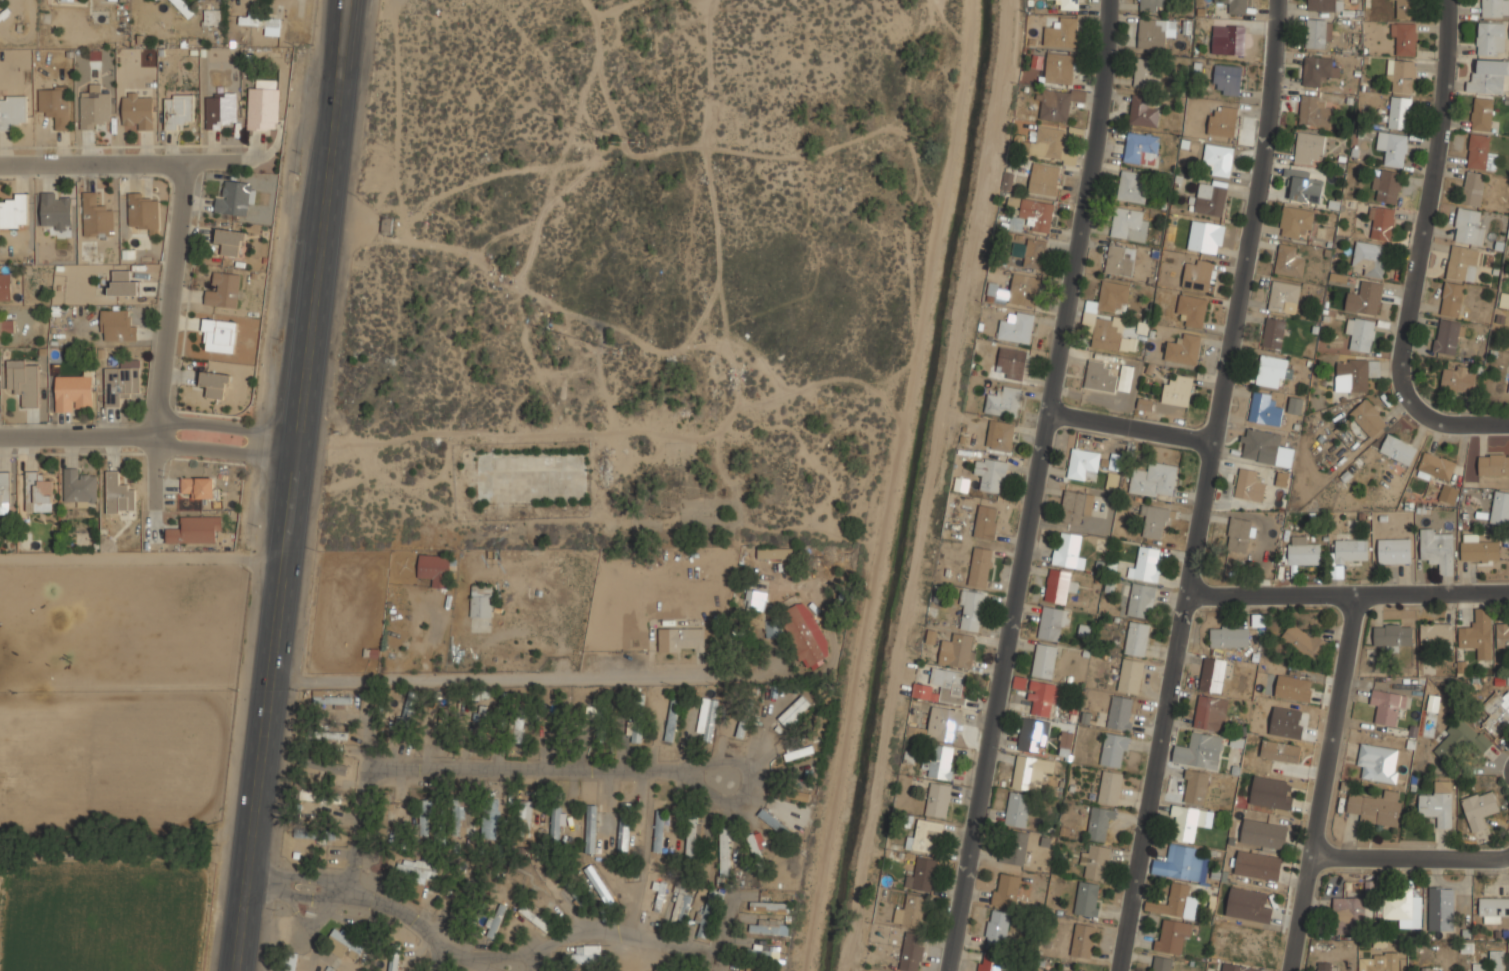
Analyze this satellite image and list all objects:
building: (67, 0)
building: (1, 2)
building: (1069, 4)
building: (1155, 5)
building: (1321, 5)
building: (1234, 6)
building: (183, 7)
building: (1405, 9)
building: (1494, 9)
building: (211, 17)
building: (259, 20)
building: (1062, 32)
building: (1151, 33)
building: (1318, 33)
building: (1405, 38)
building: (1490, 39)
building: (1230, 40)
building: (1061, 68)
building: (1318, 70)
building: (1146, 72)
building: (1401, 76)
building: (1488, 76)
building: (1227, 78)
building: (54, 104)
building: (263, 105)
building: (1055, 106)
building: (93, 108)
building: (219, 109)
building: (137, 110)
building: (1144, 110)
building: (11, 111)
building: (177, 111)
building: (1399, 111)
building: (1314, 112)
building: (1482, 115)
building: (1222, 121)
building: (1046, 143)
building: (1308, 146)
building: (1392, 147)
building: (1141, 149)
building: (1478, 152)
building: (1219, 159)
road: (119, 165)
building: (1044, 179)
building: (1387, 185)
building: (1304, 186)
building: (1131, 188)
building: (1472, 188)
building: (1209, 198)
building: (233, 199)
building: (14, 211)
building: (54, 211)
building: (143, 211)
building: (1036, 214)
building: (96, 215)
building: (1295, 222)
building: (1381, 223)
building: (386, 224)
building: (1130, 225)
building: (1468, 226)
building: (1205, 236)
building: (230, 241)
road: (1419, 250)
building: (1035, 252)
building: (1369, 258)
building: (1288, 260)
building: (1118, 262)
building: (1462, 263)
building: (1198, 274)
building: (122, 283)
building: (5, 287)
building: (223, 289)
building: (1023, 290)
building: (1284, 296)
building: (1364, 297)
building: (1113, 298)
building: (1451, 298)
road: (169, 299)
building: (1504, 300)
building: (1192, 307)
building: (116, 325)
building: (5, 327)
building: (1017, 329)
building: (1273, 332)
building: (1103, 333)
building: (1360, 333)
building: (218, 335)
building: (1447, 336)
building: (1127, 344)
building: (626, 345)
building: (1183, 349)
building: (1012, 363)
building: (1272, 369)
building: (1355, 373)
building: (1099, 376)
building: (1125, 378)
building: (1458, 379)
building: (121, 382)
building: (23, 383)
building: (214, 383)
building: (1178, 390)
building: (1508, 392)
building: (73, 393)
building: (1004, 401)
building: (1144, 404)
building: (1295, 404)
building: (1265, 409)
building: (1368, 417)
road: (228, 427)
road: (1133, 427)
road: (81, 436)
building: (1003, 436)
building: (1264, 448)
building: (1397, 449)
road: (226, 451)
building: (1084, 464)
building: (1493, 464)
building: (1436, 466)
parking lot: (538, 471)
building: (991, 474)
building: (1281, 479)
building: (1154, 480)
road: (292, 485)
road: (1204, 485)
building: (79, 486)
road: (1043, 486)
building: (1249, 486)
building: (197, 487)
building: (38, 492)
building: (4, 493)
building: (118, 494)
building: (1076, 506)
building: (1500, 508)
building: (986, 521)
building: (1153, 521)
building: (194, 531)
building: (1239, 534)
building: (1437, 547)
building: (1394, 550)
building: (1480, 550)
building: (1069, 551)
building: (1351, 551)
building: (774, 552)
building: (1303, 552)
road: (142, 557)
building: (1146, 564)
building: (980, 567)
building: (443, 568)
building: (1057, 586)
road: (1349, 597)
building: (1141, 600)
building: (481, 601)
building: (972, 611)
building: (1053, 622)
building: (790, 626)
building: (1478, 633)
building: (1437, 634)
building: (1393, 635)
building: (1502, 636)
building: (930, 637)
building: (1229, 637)
building: (1136, 638)
building: (681, 640)
building: (1304, 642)
building: (957, 651)
building: (1044, 661)
building: (1130, 675)
building: (1212, 675)
road: (526, 678)
building: (949, 685)
building: (1293, 687)
building: (1042, 697)
building: (331, 701)
building: (1387, 707)
building: (410, 708)
building: (794, 711)
building: (1121, 712)
building: (1210, 713)
building: (1496, 713)
building: (485, 714)
building: (566, 717)
building: (447, 718)
building: (602, 718)
building: (708, 719)
building: (671, 720)
building: (1286, 723)
building: (944, 724)
building: (514, 727)
building: (634, 731)
building: (543, 732)
building: (329, 734)
building: (1034, 735)
building: (1461, 740)
building: (1065, 743)
building: (1114, 750)
building: (1199, 750)
building: (1281, 750)
building: (797, 753)
building: (941, 762)
building: (1379, 762)
building: (325, 765)
road: (485, 766)
building: (1025, 772)
road: (1326, 784)
building: (1195, 786)
building: (1110, 787)
building: (1271, 792)
building: (937, 800)
building: (1437, 801)
building: (1377, 808)
building: (1479, 808)
building: (1017, 809)
building: (525, 815)
building: (458, 816)
building: (427, 817)
building: (490, 817)
building: (774, 819)
building: (555, 820)
building: (1190, 821)
building: (1100, 823)
building: (624, 826)
building: (591, 828)
building: (659, 831)
building: (924, 834)
building: (1264, 834)
building: (691, 839)
building: (754, 845)
building: (1014, 847)
building: (724, 852)
road: (1411, 859)
building: (1096, 862)
building: (1179, 863)
building: (1257, 865)
building: (416, 870)
building: (921, 876)
building: (600, 886)
building: (1007, 891)
building: (574, 892)
building: (659, 896)
building: (1088, 899)
building: (1172, 901)
building: (1248, 904)
building: (769, 906)
building: (681, 909)
building: (1403, 909)
building: (1441, 909)
building: (1493, 909)
building: (911, 912)
building: (705, 913)
crop: (106, 914)
building: (1348, 916)
building: (534, 918)
building: (495, 920)
building: (769, 927)
building: (997, 929)
building: (1172, 936)
building: (1083, 939)
building: (344, 945)
building: (911, 951)
building: (759, 954)
road: (482, 955)
building: (584, 955)
road: (437, 958)
building: (393, 961)
building: (1381, 962)
building: (1491, 962)
building: (993, 963)
building: (1161, 963)
building: (1324, 966)
building: (1239, 967)
building: (1426, 969)
building: (673, 970)
building: (746, 970)

